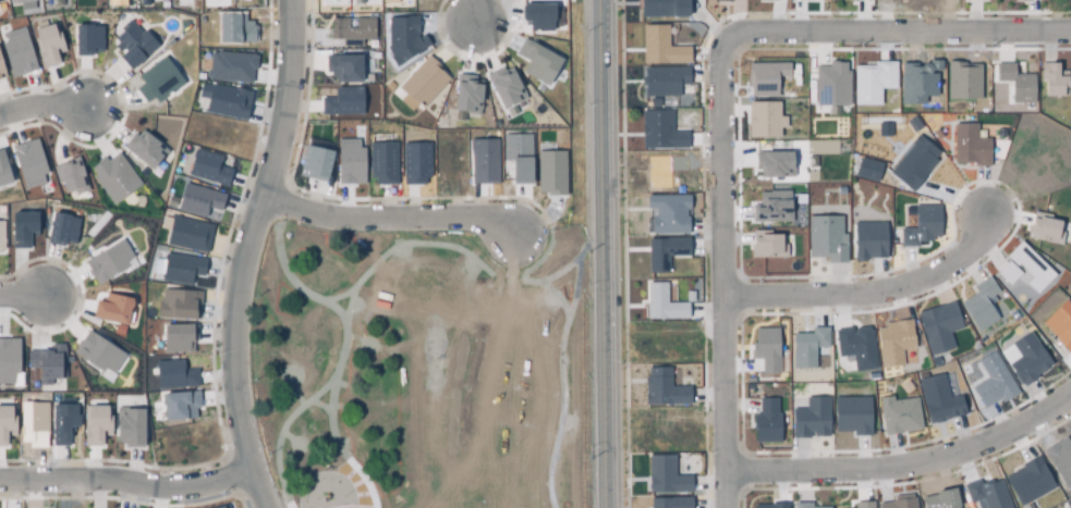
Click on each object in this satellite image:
building: (1, 0)
building: (709, 0)
building: (747, 0)
building: (1020, 0)
building: (25, 3)
building: (664, 7)
road: (477, 8)
building: (537, 17)
building: (234, 29)
building: (350, 30)
building: (87, 38)
building: (402, 39)
building: (47, 44)
building: (133, 45)
building: (659, 48)
building: (17, 51)
building: (536, 62)
building: (346, 65)
building: (229, 67)
building: (1, 72)
building: (764, 77)
building: (664, 78)
building: (158, 79)
building: (962, 79)
building: (1051, 79)
building: (422, 82)
building: (871, 83)
building: (916, 83)
building: (1017, 83)
building: (830, 87)
building: (503, 88)
building: (465, 94)
road: (42, 100)
building: (344, 100)
building: (227, 102)
road: (722, 102)
building: (1035, 108)
building: (762, 121)
building: (659, 132)
building: (969, 146)
building: (144, 149)
building: (516, 157)
building: (483, 160)
building: (29, 161)
building: (382, 161)
building: (348, 162)
building: (314, 163)
building: (415, 163)
building: (772, 163)
building: (913, 164)
building: (206, 169)
building: (866, 170)
building: (3, 171)
building: (658, 171)
building: (550, 173)
building: (70, 175)
building: (115, 176)
building: (197, 200)
road: (394, 208)
building: (770, 208)
building: (668, 214)
building: (63, 226)
building: (921, 226)
building: (23, 228)
building: (1043, 230)
building: (1, 234)
building: (187, 235)
building: (825, 237)
road: (446, 238)
building: (868, 239)
building: (765, 244)
road: (518, 249)
building: (665, 250)
road: (325, 251)
road: (246, 253)
road: (609, 253)
building: (107, 261)
road: (572, 263)
road: (290, 264)
building: (1027, 267)
road: (584, 269)
building: (179, 270)
building: (1006, 273)
road: (339, 283)
road: (22, 288)
building: (1069, 290)
building: (689, 297)
road: (873, 298)
building: (174, 305)
building: (661, 305)
building: (977, 305)
building: (111, 309)
building: (1060, 325)
building: (937, 327)
building: (177, 337)
building: (894, 340)
building: (806, 348)
building: (855, 348)
building: (765, 350)
building: (97, 352)
building: (1026, 358)
building: (7, 359)
building: (46, 363)
park: (426, 372)
building: (174, 374)
building: (991, 381)
road: (300, 383)
building: (662, 389)
building: (939, 399)
building: (911, 402)
building: (180, 405)
building: (851, 416)
building: (811, 418)
building: (766, 421)
building: (5, 422)
building: (63, 422)
building: (32, 423)
building: (95, 424)
building: (129, 426)
road: (356, 445)
road: (348, 458)
building: (1060, 459)
road: (906, 466)
road: (129, 475)
building: (665, 478)
building: (1026, 480)
road: (295, 487)
building: (985, 494)
building: (940, 499)
building: (898, 503)
building: (669, 504)
building: (861, 505)
building: (774, 506)
building: (800, 506)
building: (222, 507)
building: (1070, 507)

